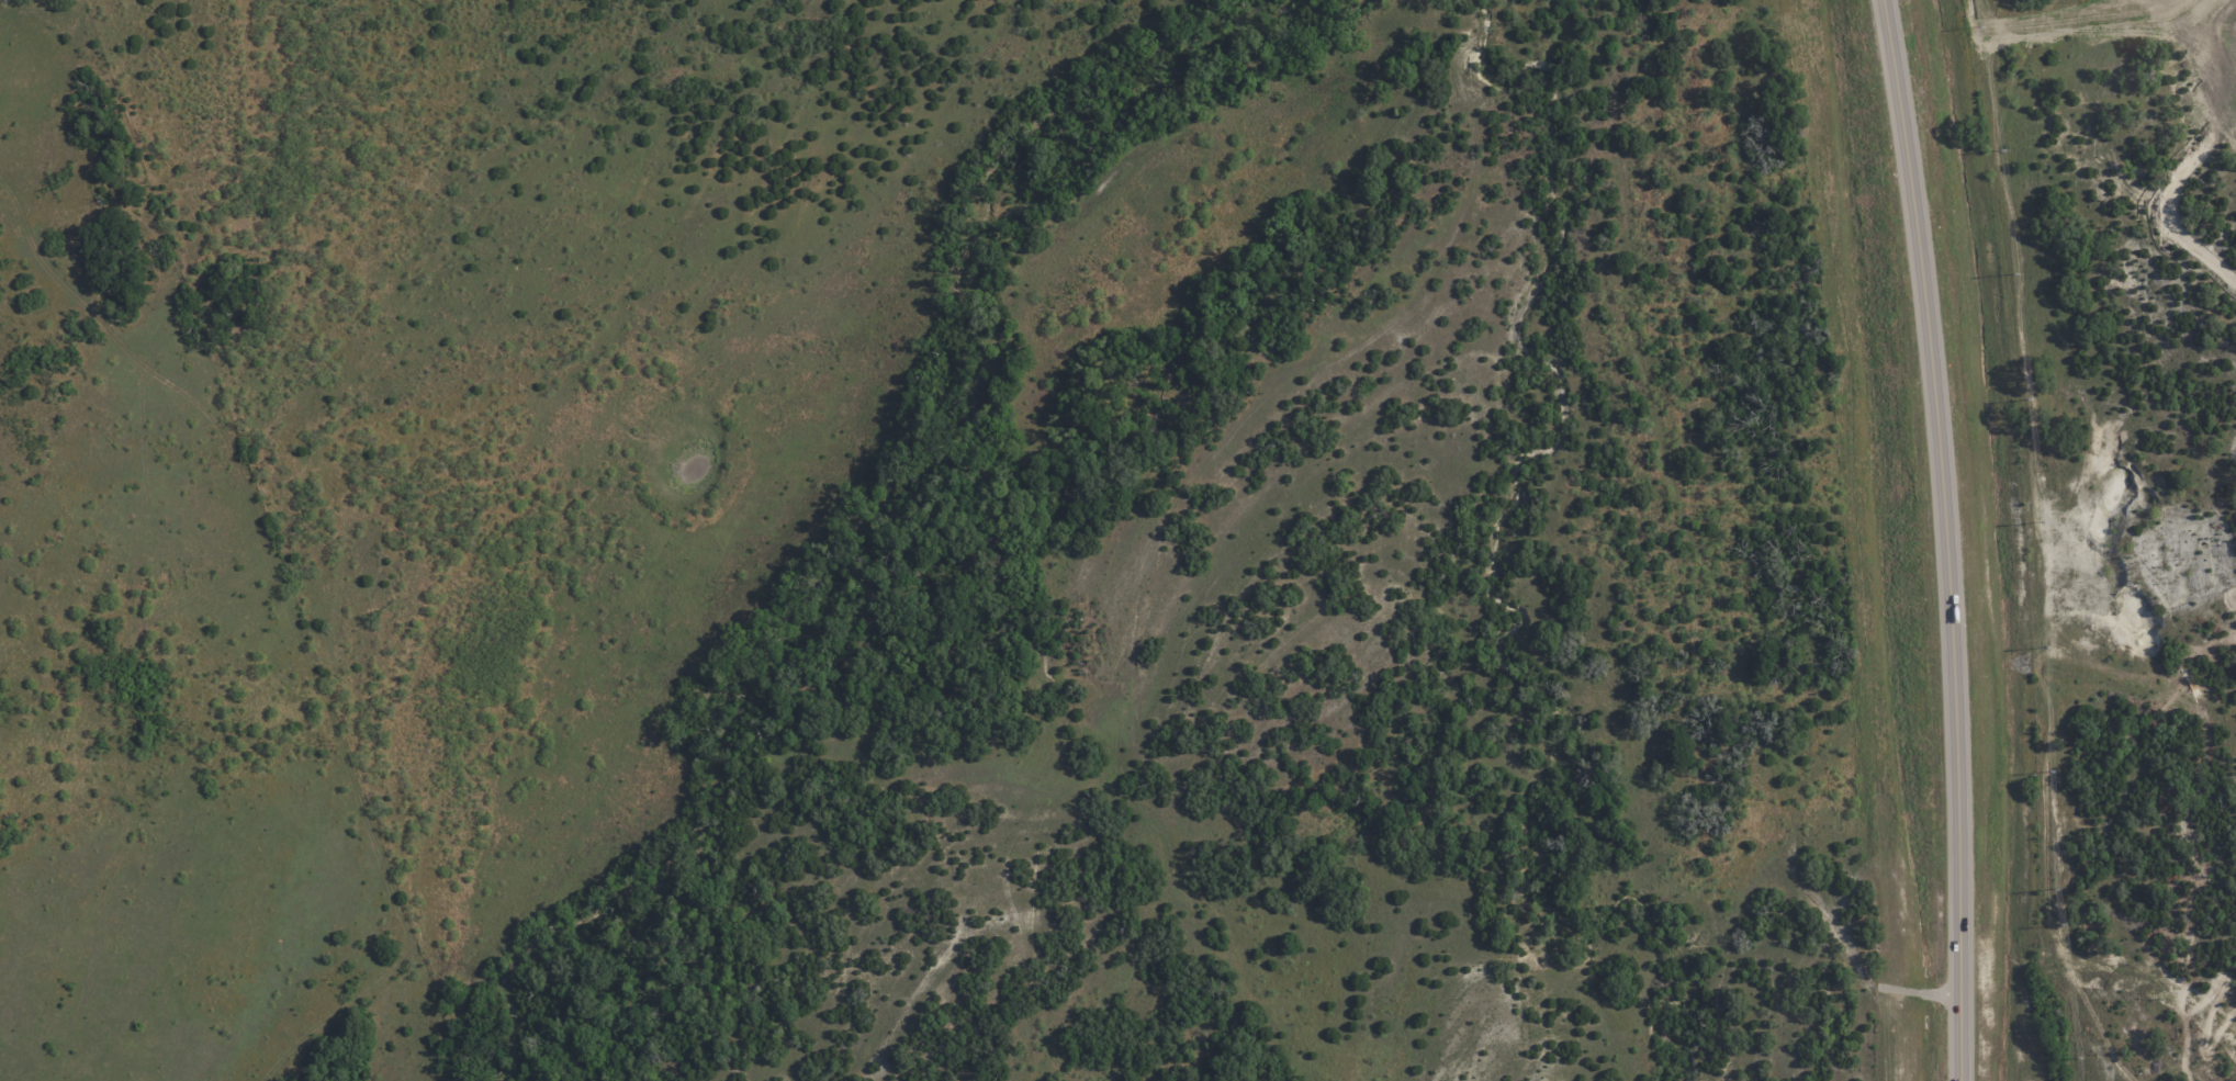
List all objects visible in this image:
road: (1946, 538)

